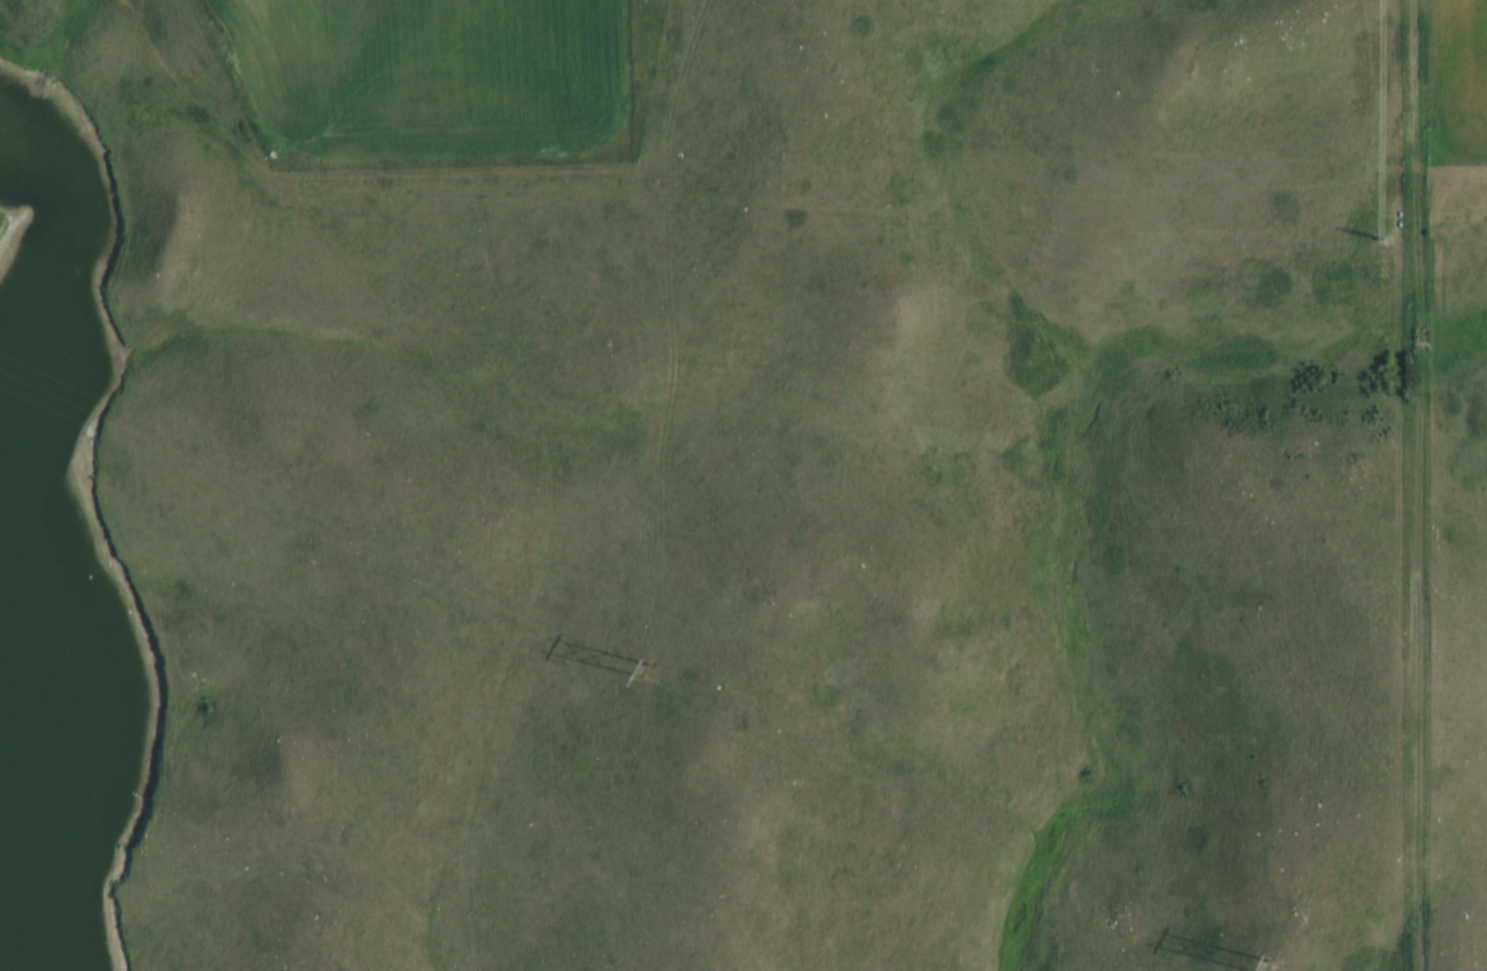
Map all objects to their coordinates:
power tower: (641, 672)
power tower: (1272, 970)

